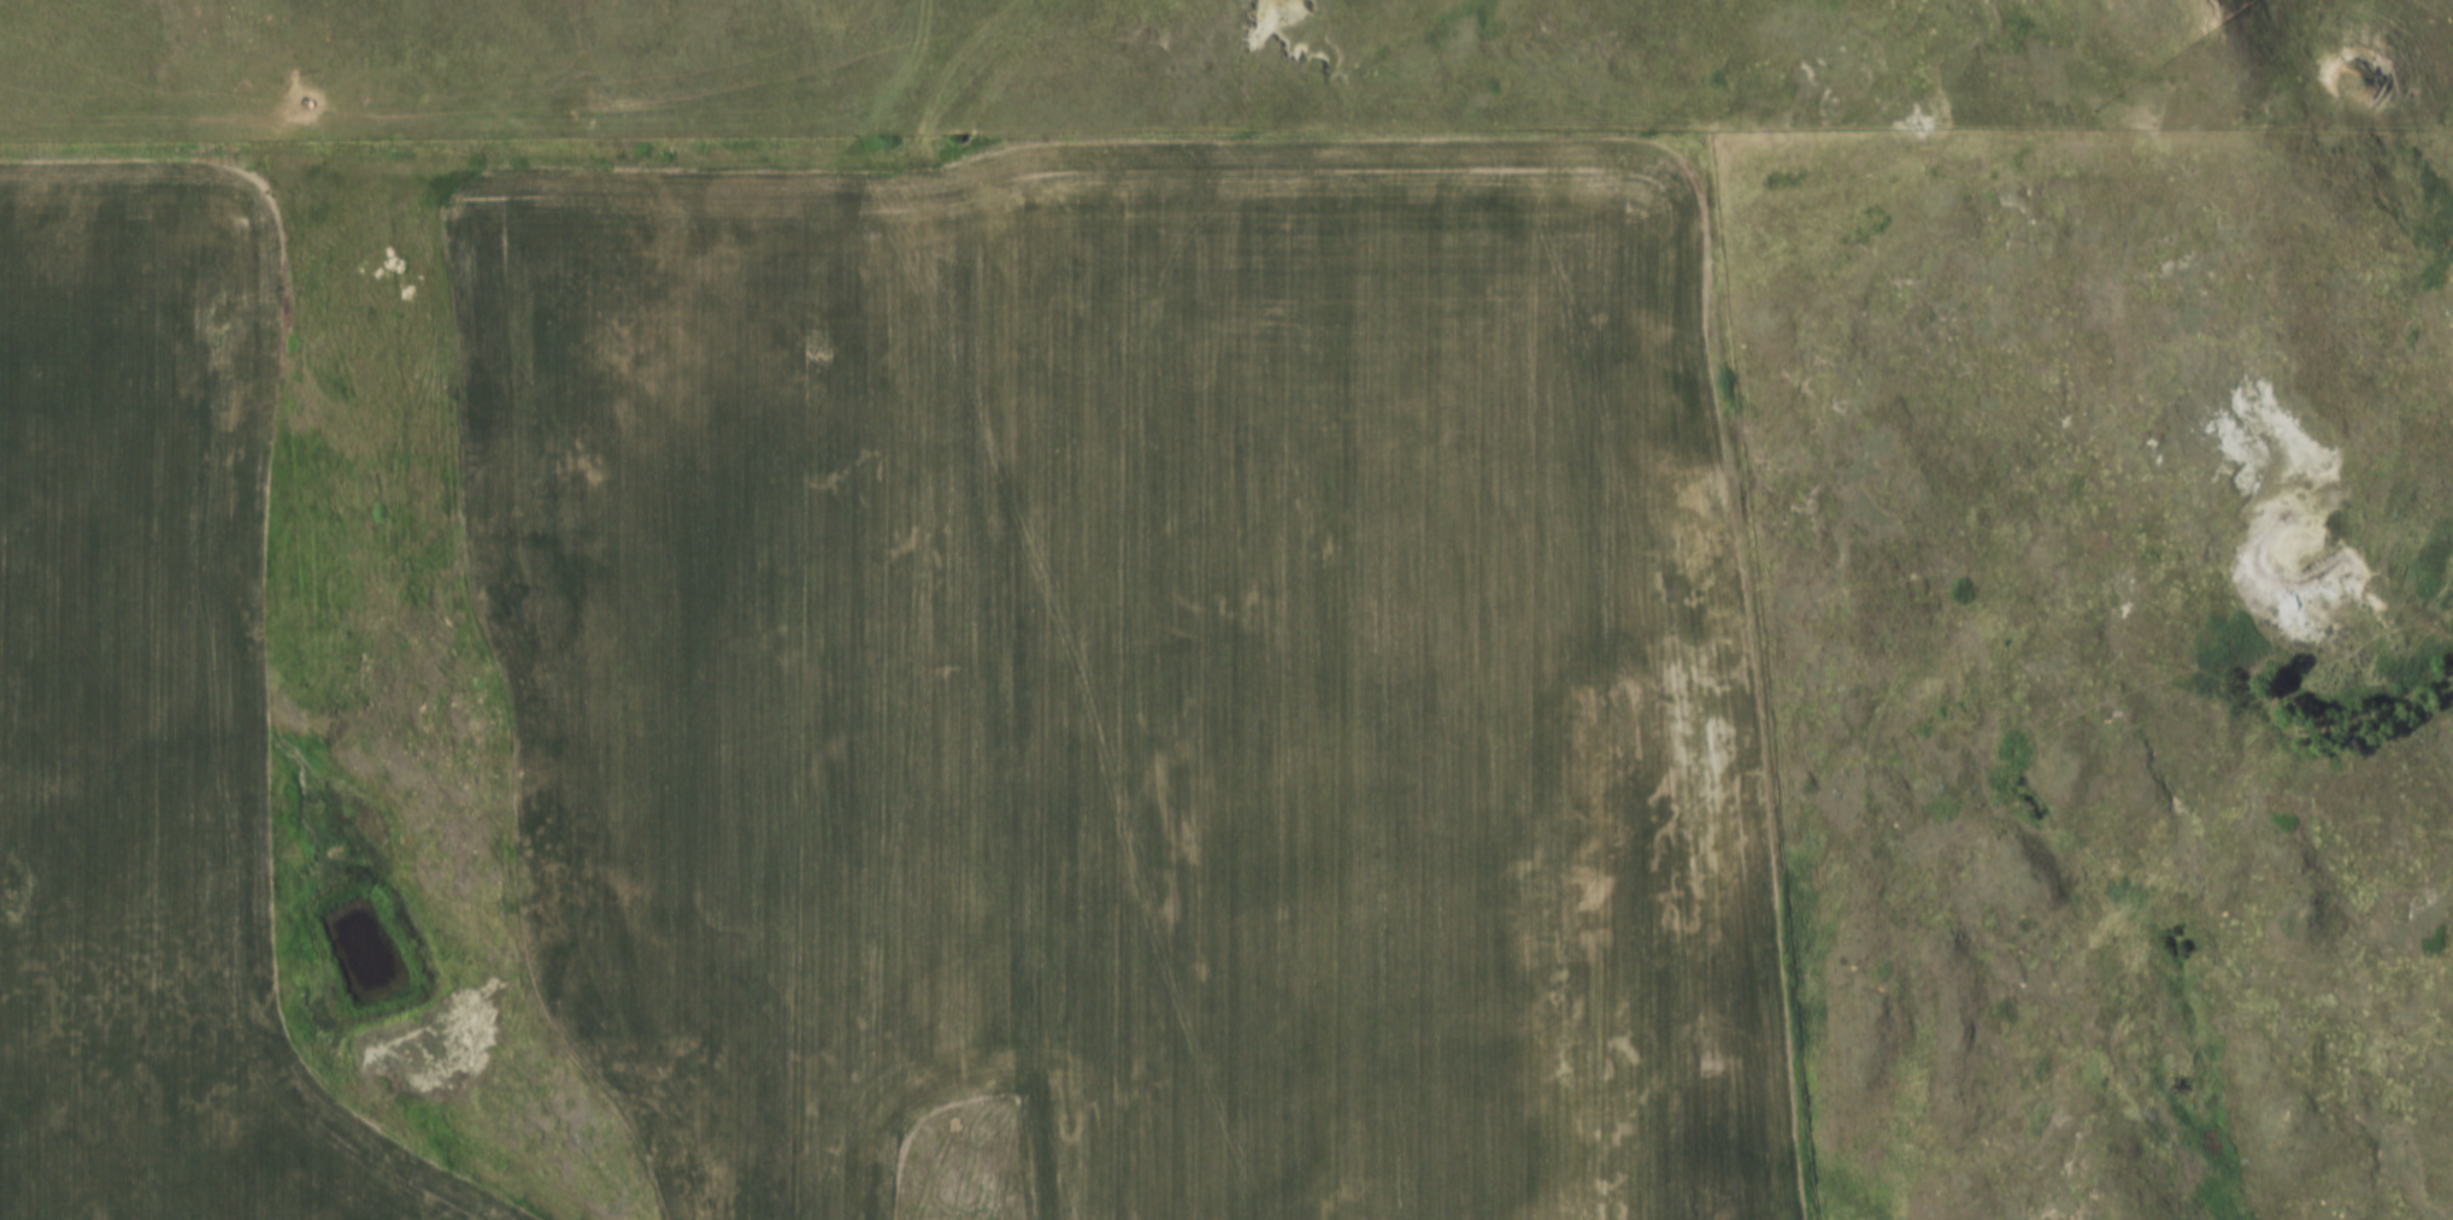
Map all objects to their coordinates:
road: (964, 588)

